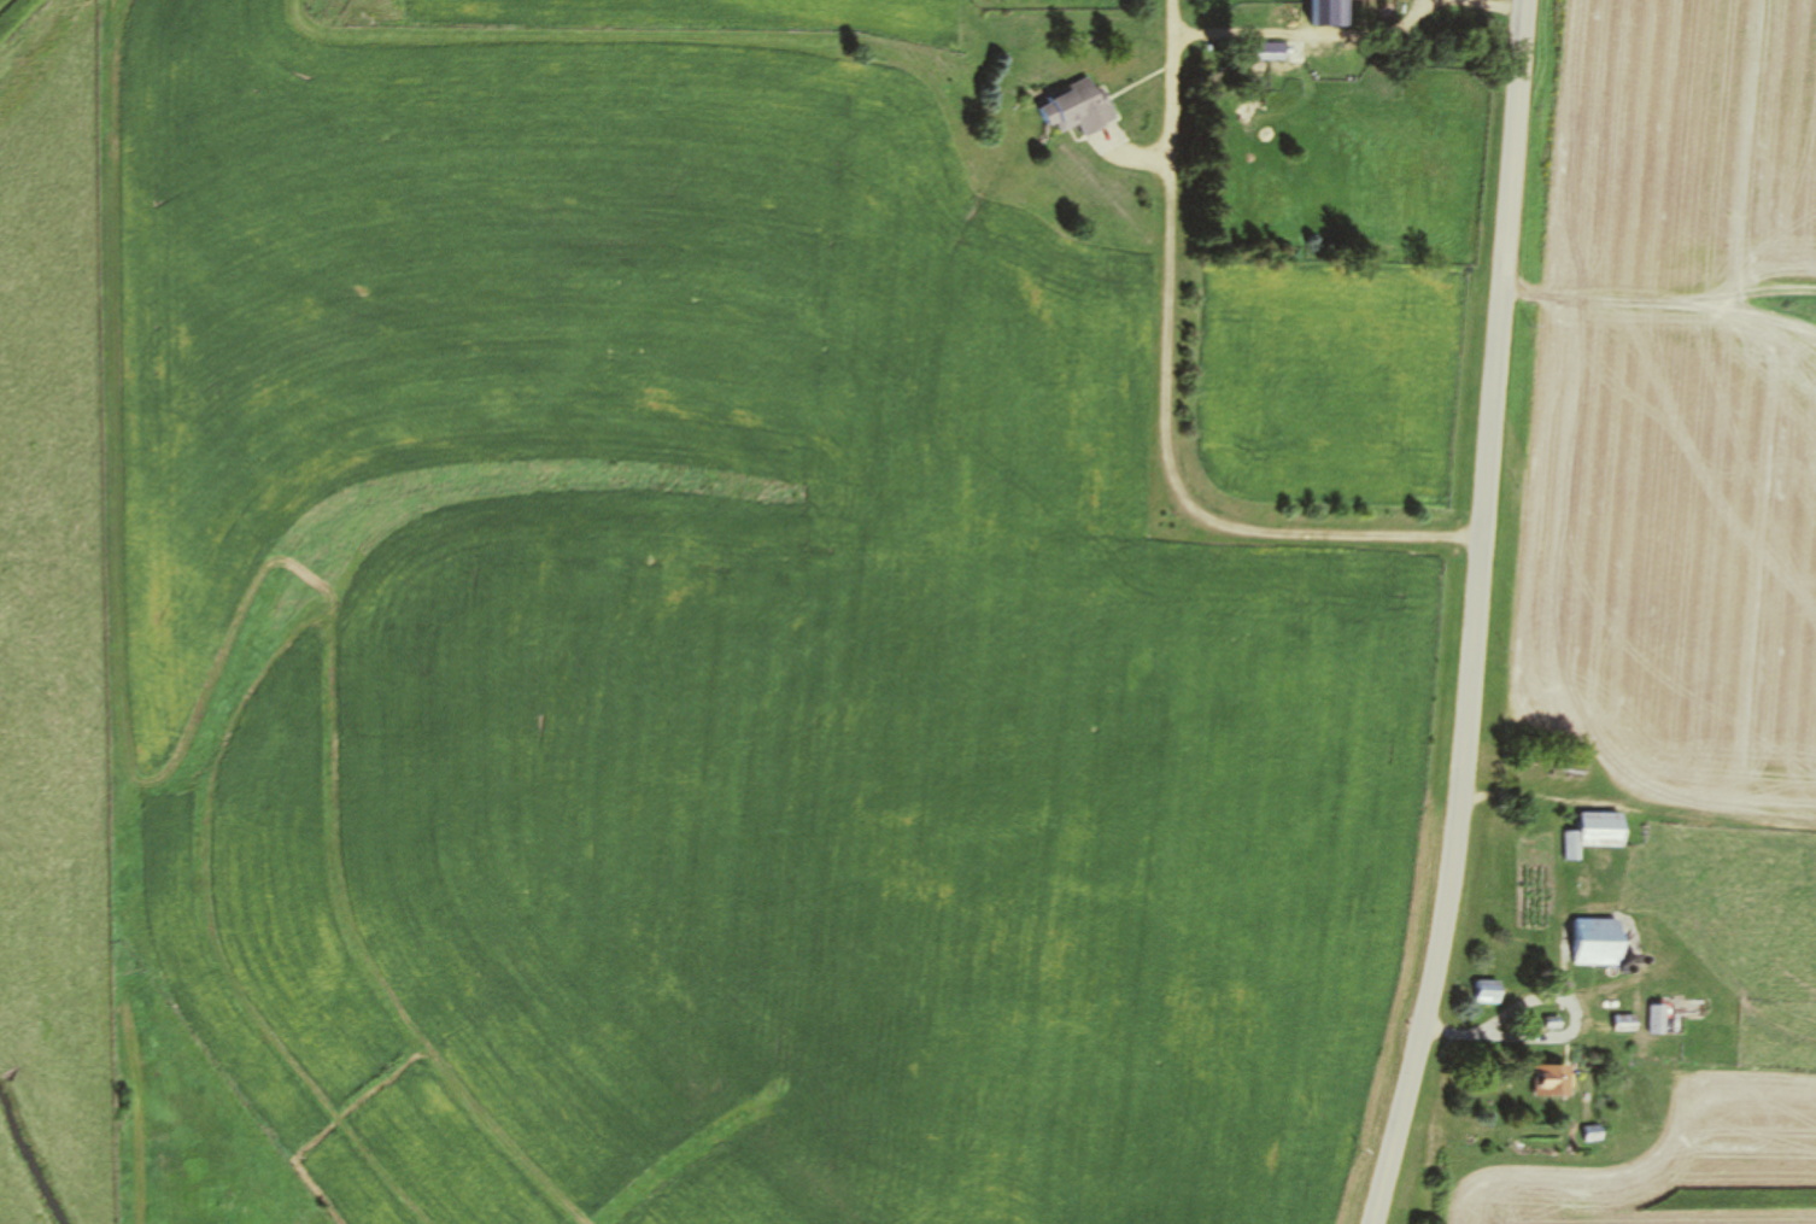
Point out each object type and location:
building: (1330, 12)
building: (1083, 107)
road: (1475, 615)
building: (1603, 830)
building: (1599, 942)
building: (1488, 992)
building: (1554, 1082)
building: (1594, 1135)
river: (30, 1161)

